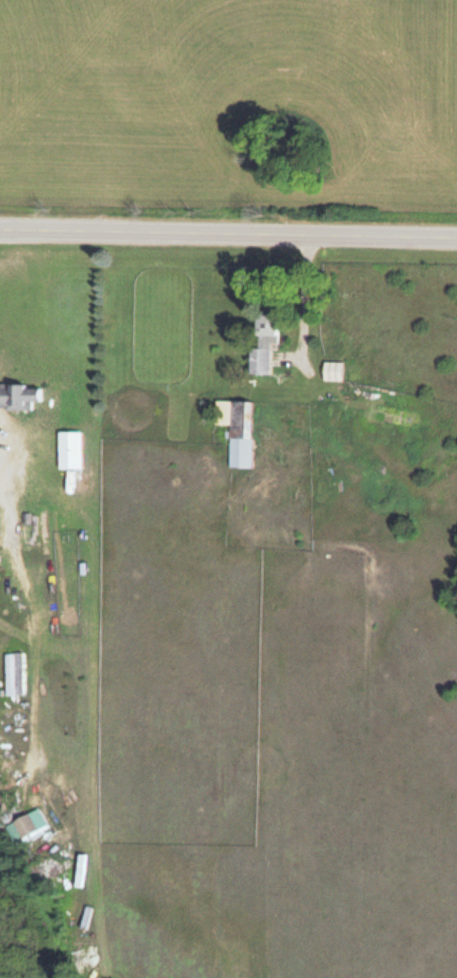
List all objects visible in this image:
road: (228, 234)
building: (261, 343)
building: (331, 369)
building: (18, 393)
building: (235, 427)
building: (69, 447)
building: (10, 672)
building: (24, 822)

